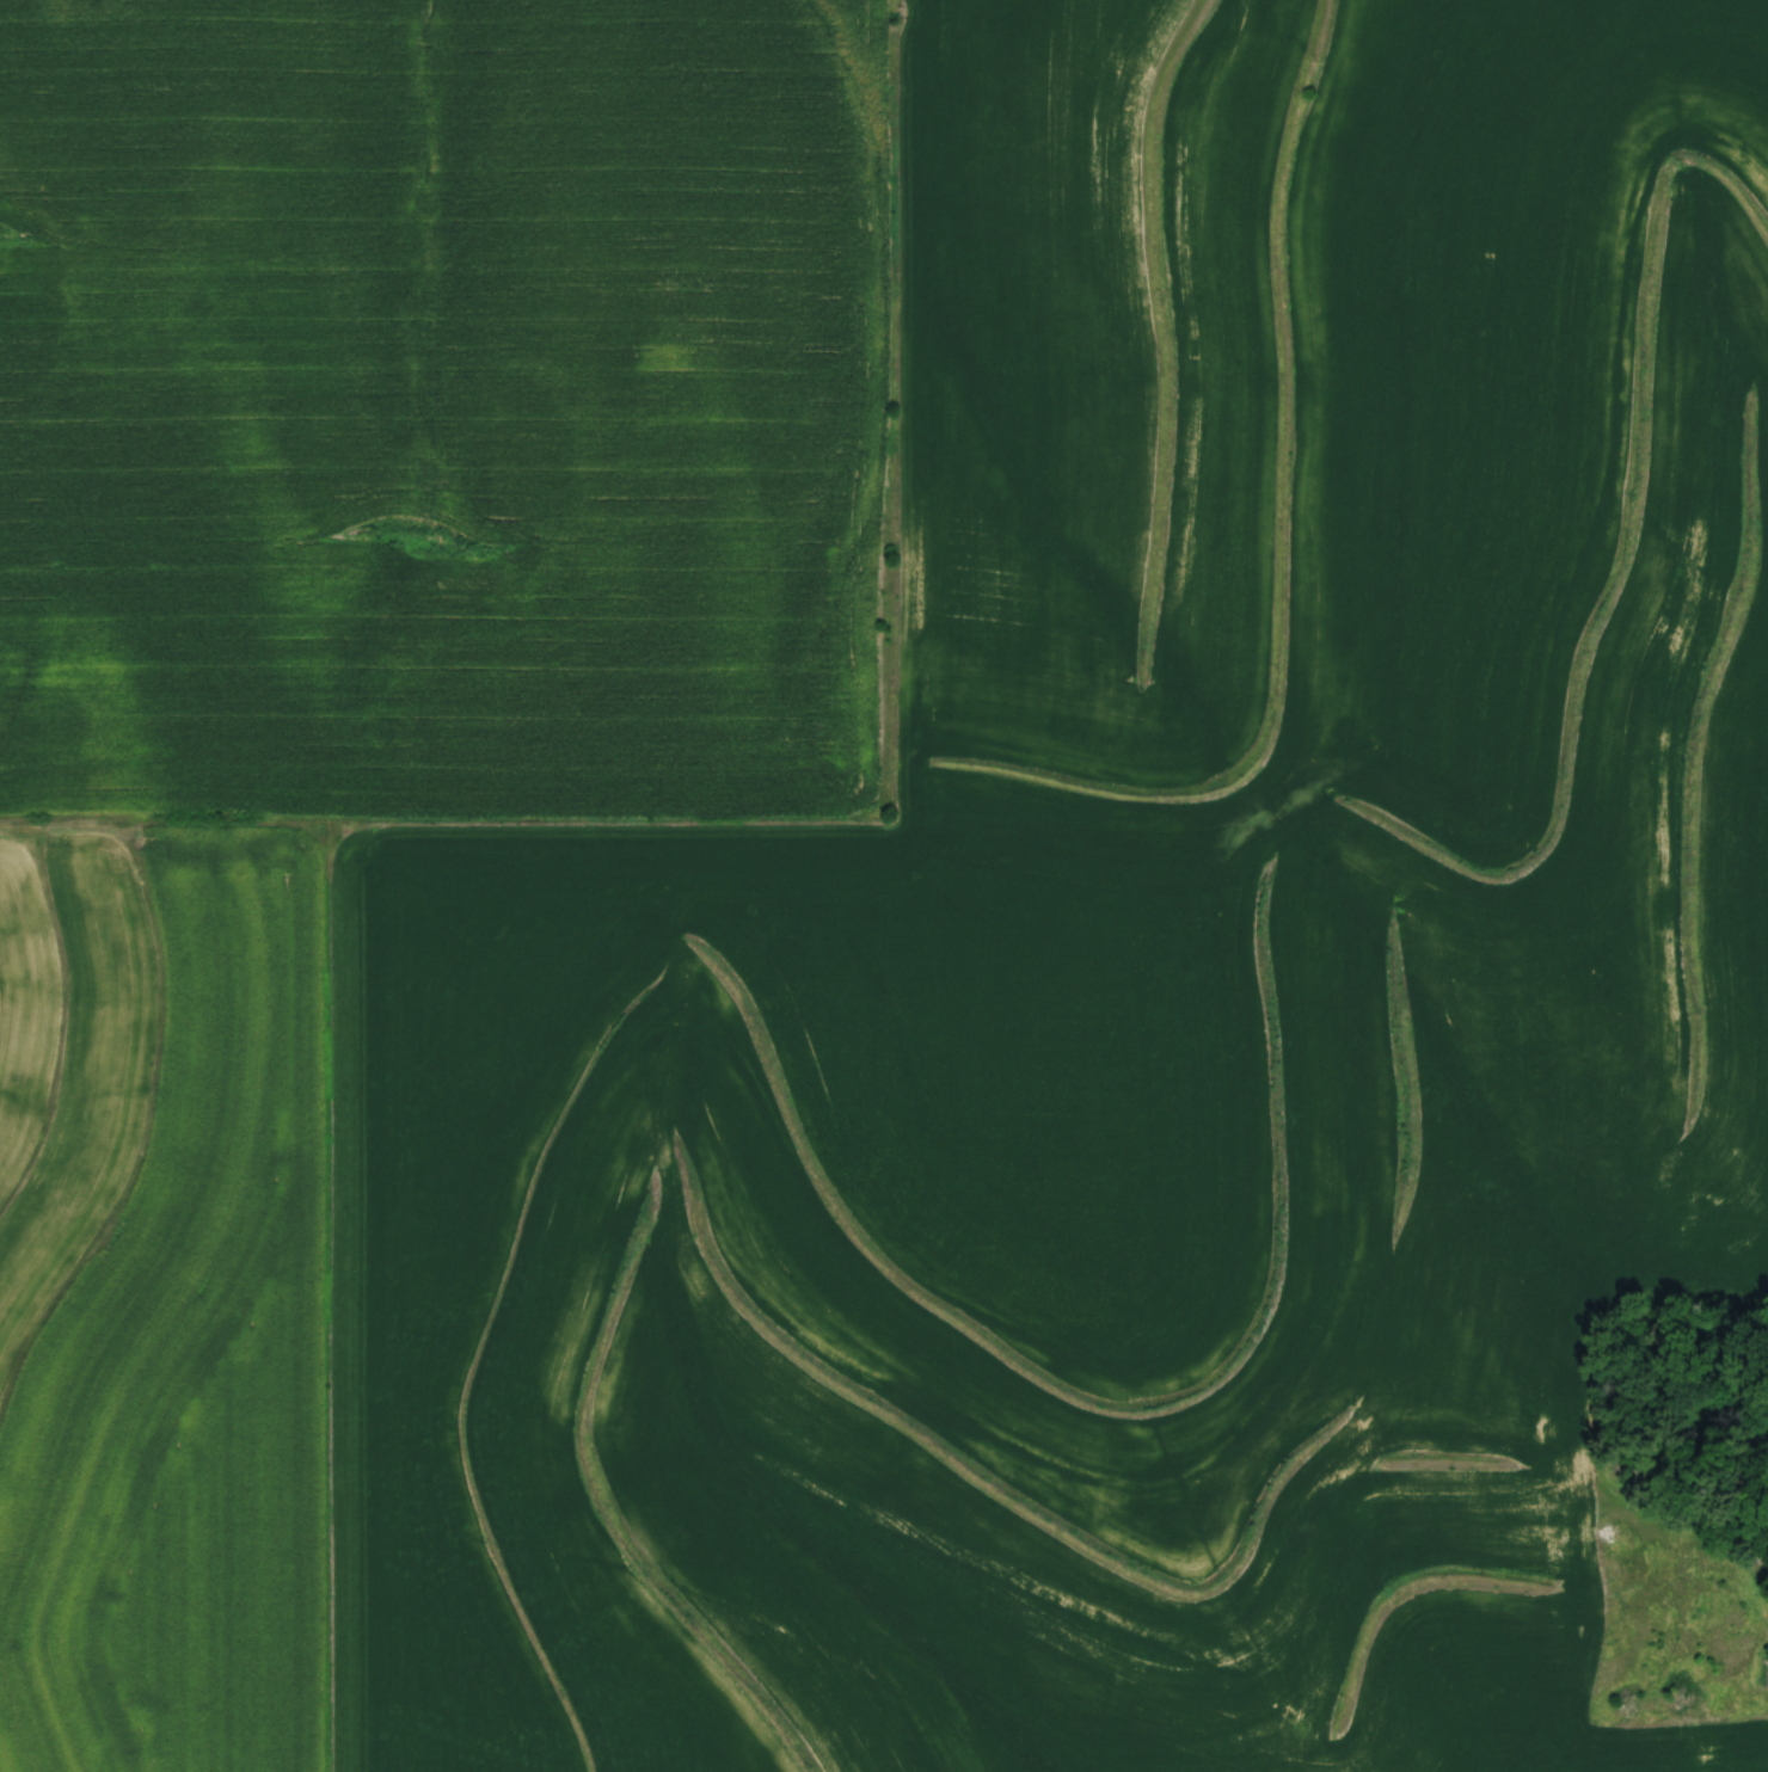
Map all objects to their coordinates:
building: (1606, 1534)

